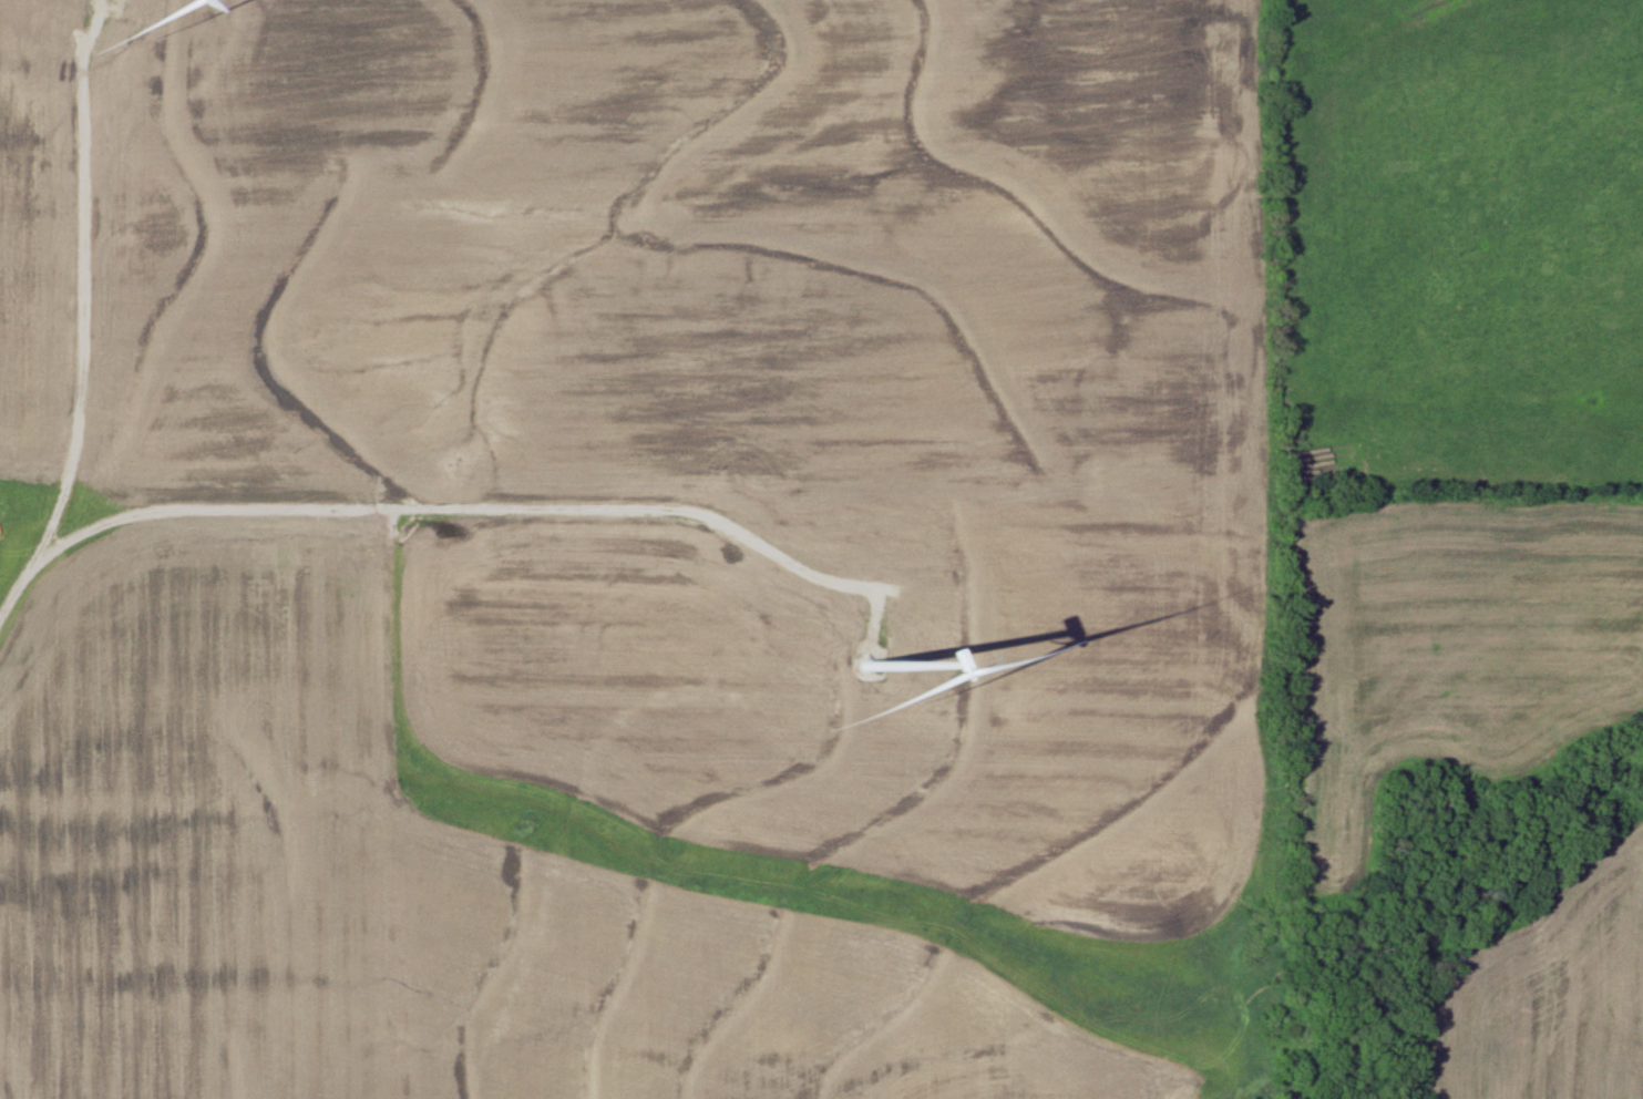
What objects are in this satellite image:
wind turbine: (870, 665)

